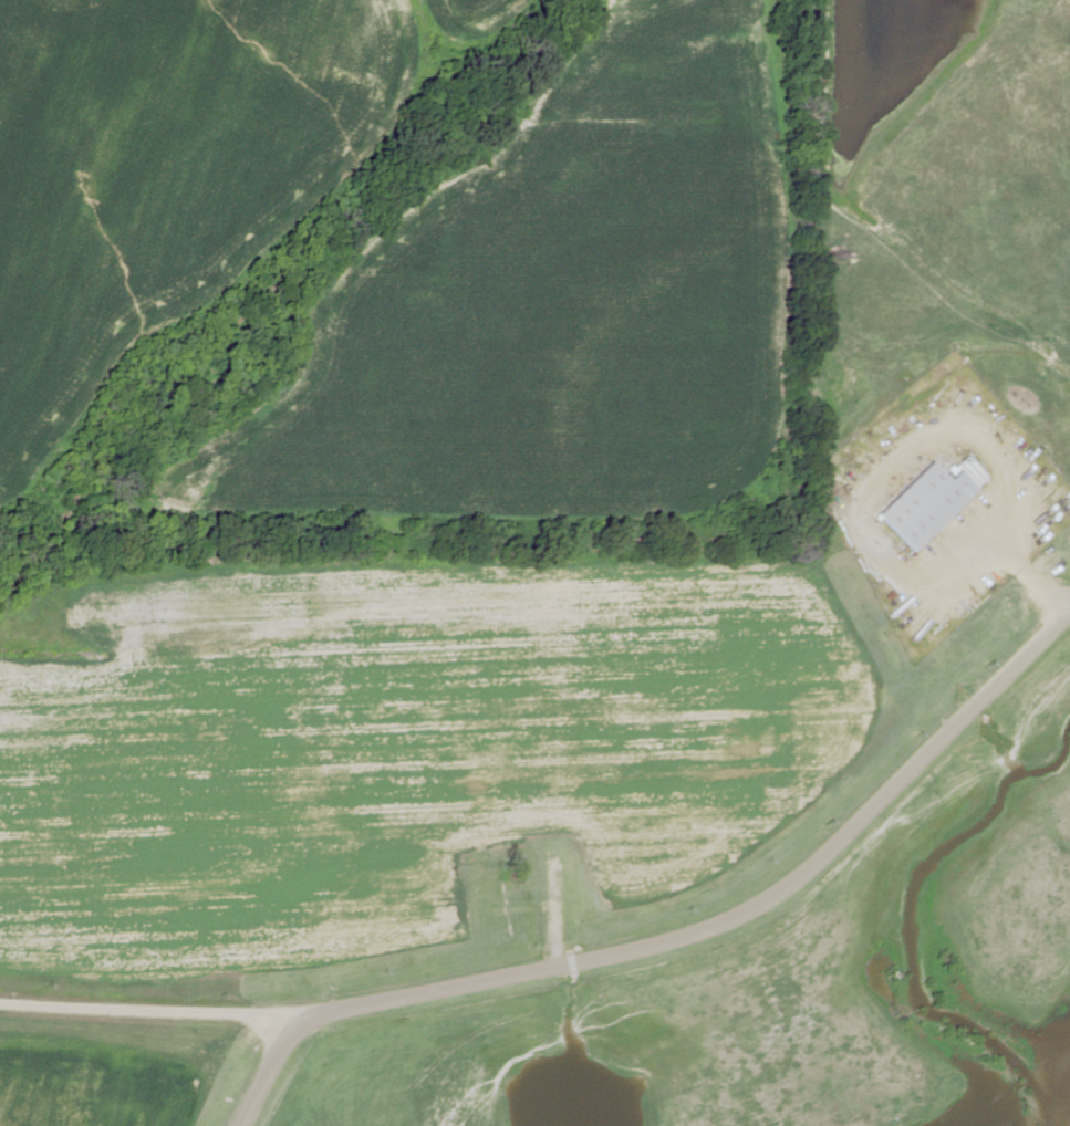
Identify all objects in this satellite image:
building: (922, 504)
road: (562, 749)
road: (586, 918)
road: (256, 1066)

